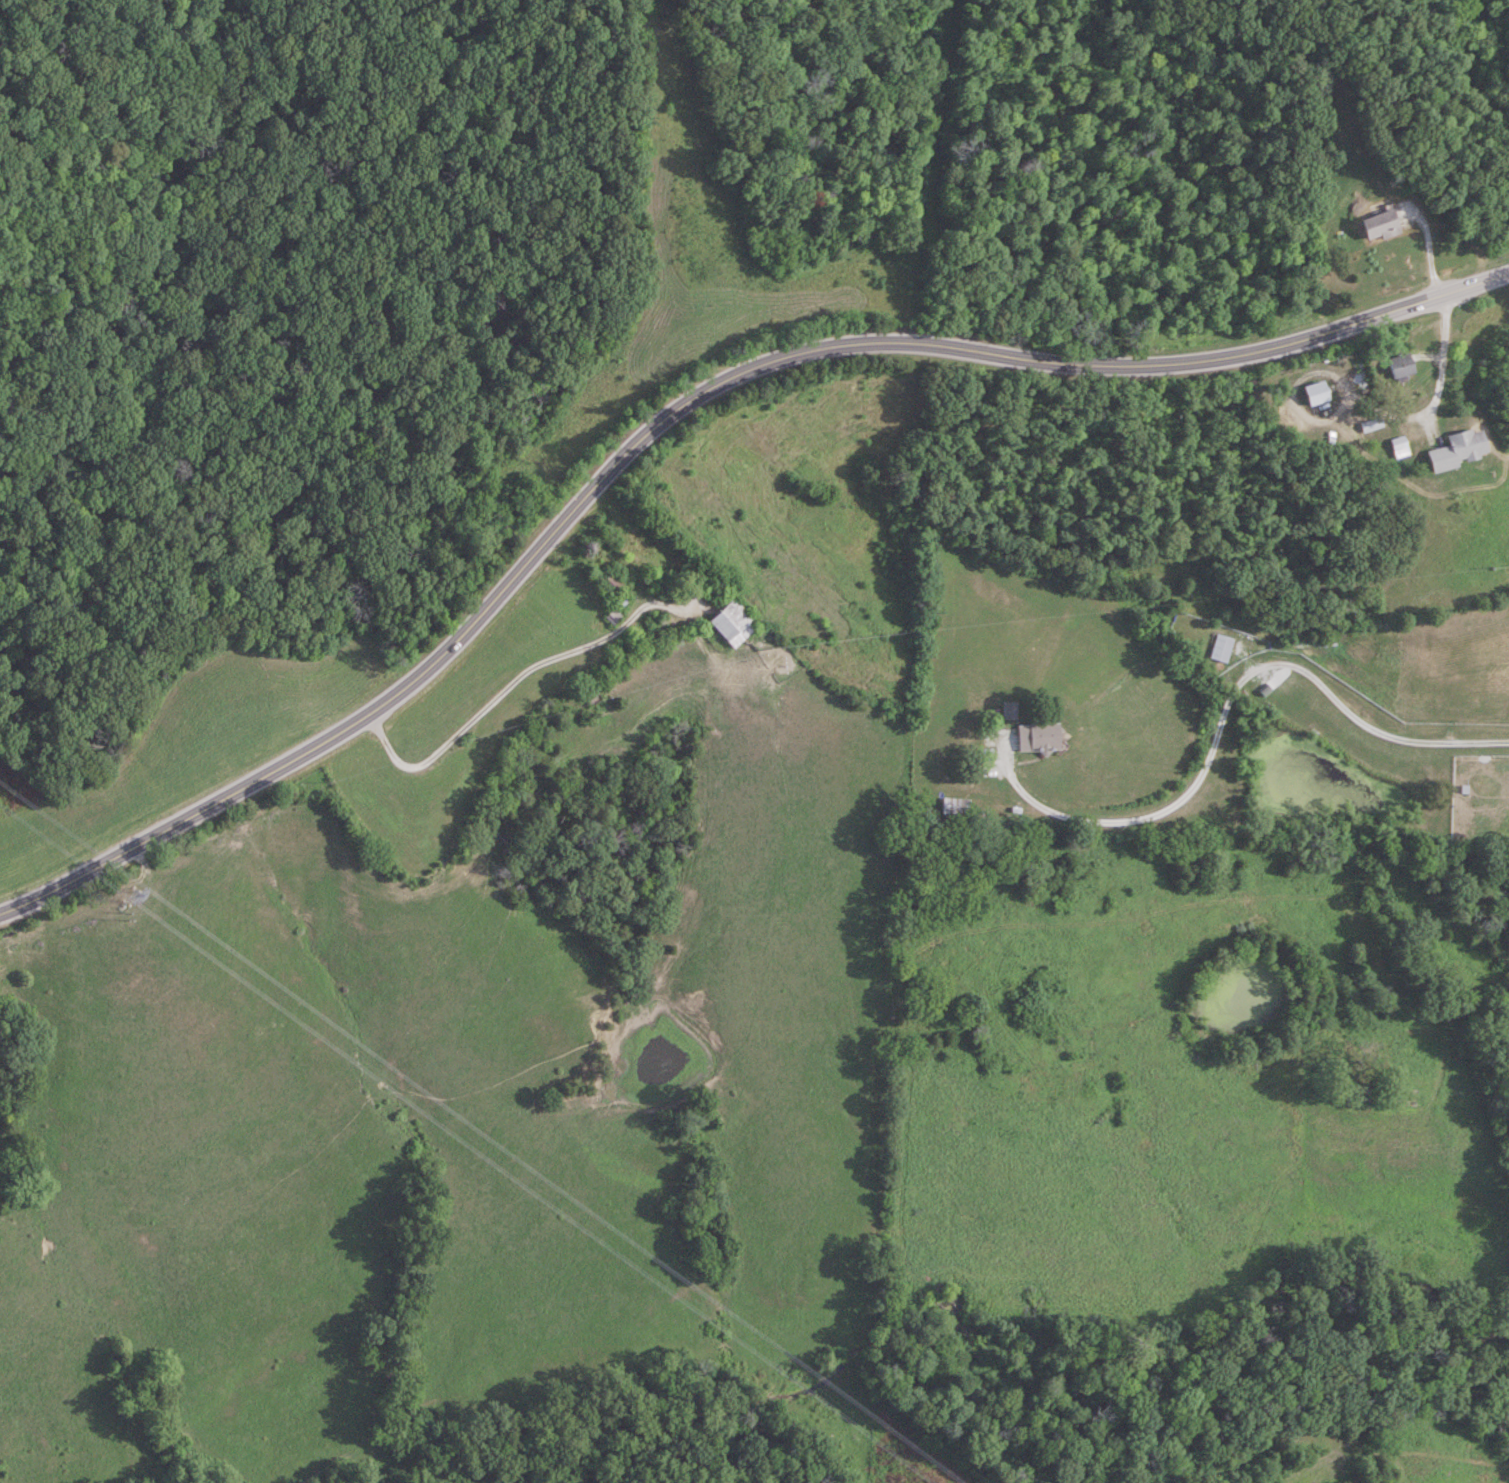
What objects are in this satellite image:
building: (1383, 221)
road: (1431, 243)
building: (1403, 361)
road: (1438, 390)
building: (1319, 391)
road: (679, 406)
building: (1374, 420)
building: (1402, 443)
building: (1460, 445)
building: (612, 580)
building: (613, 610)
building: (734, 618)
building: (1221, 647)
road: (522, 671)
road: (1228, 702)
building: (1035, 737)
building: (955, 806)
power tower: (128, 909)

